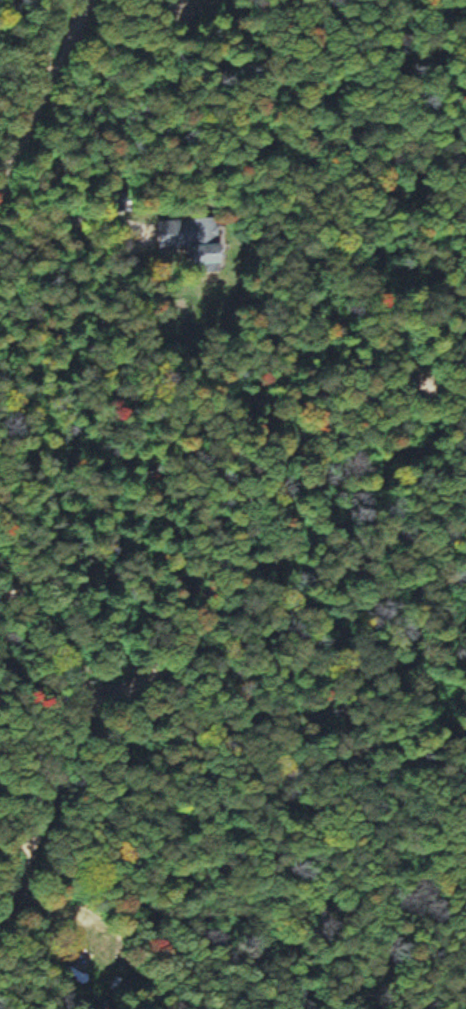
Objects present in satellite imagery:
road: (47, 103)
building: (193, 239)
road: (37, 652)

